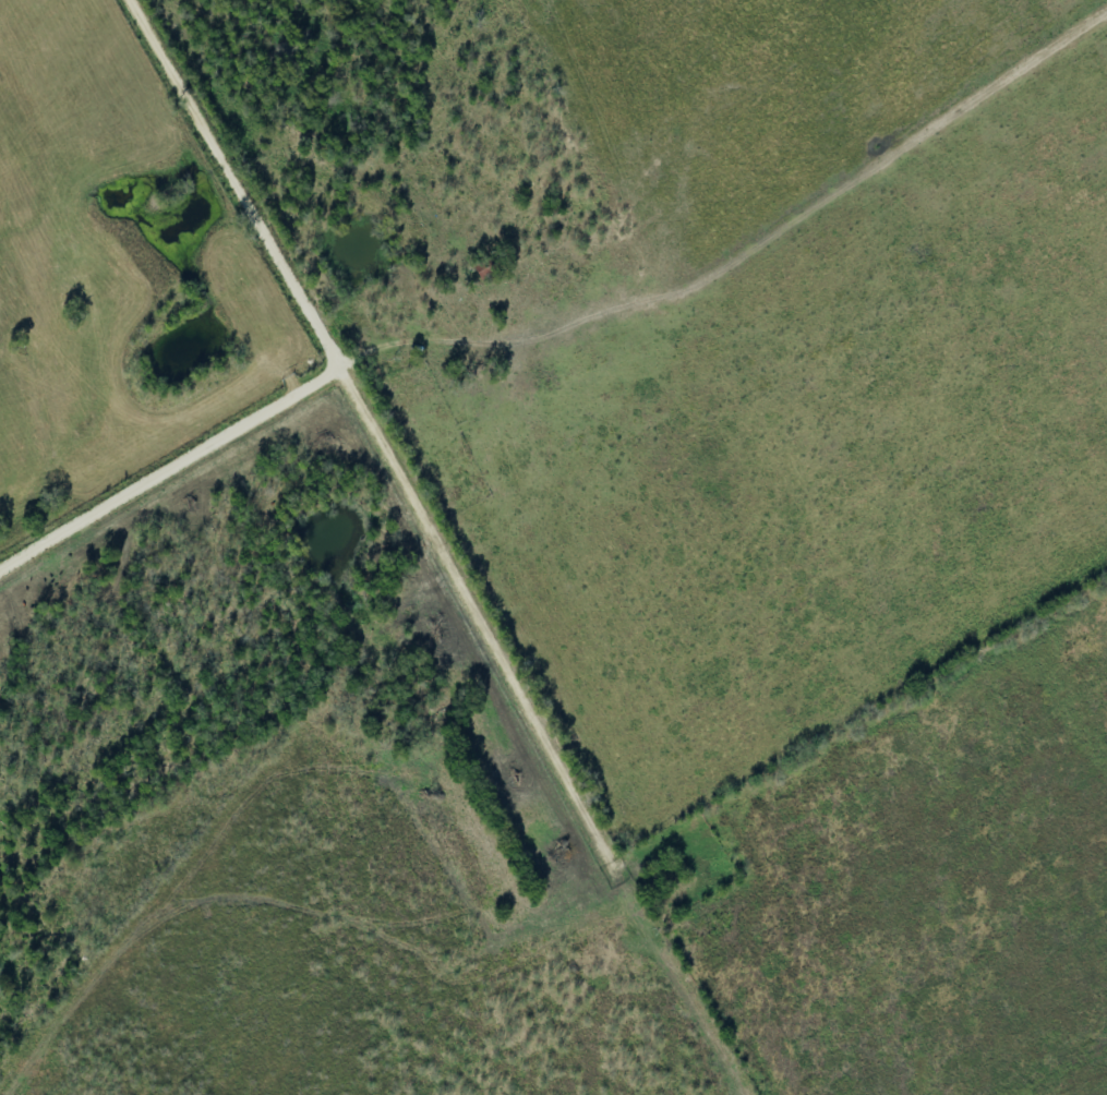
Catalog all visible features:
road: (344, 357)
road: (496, 637)

